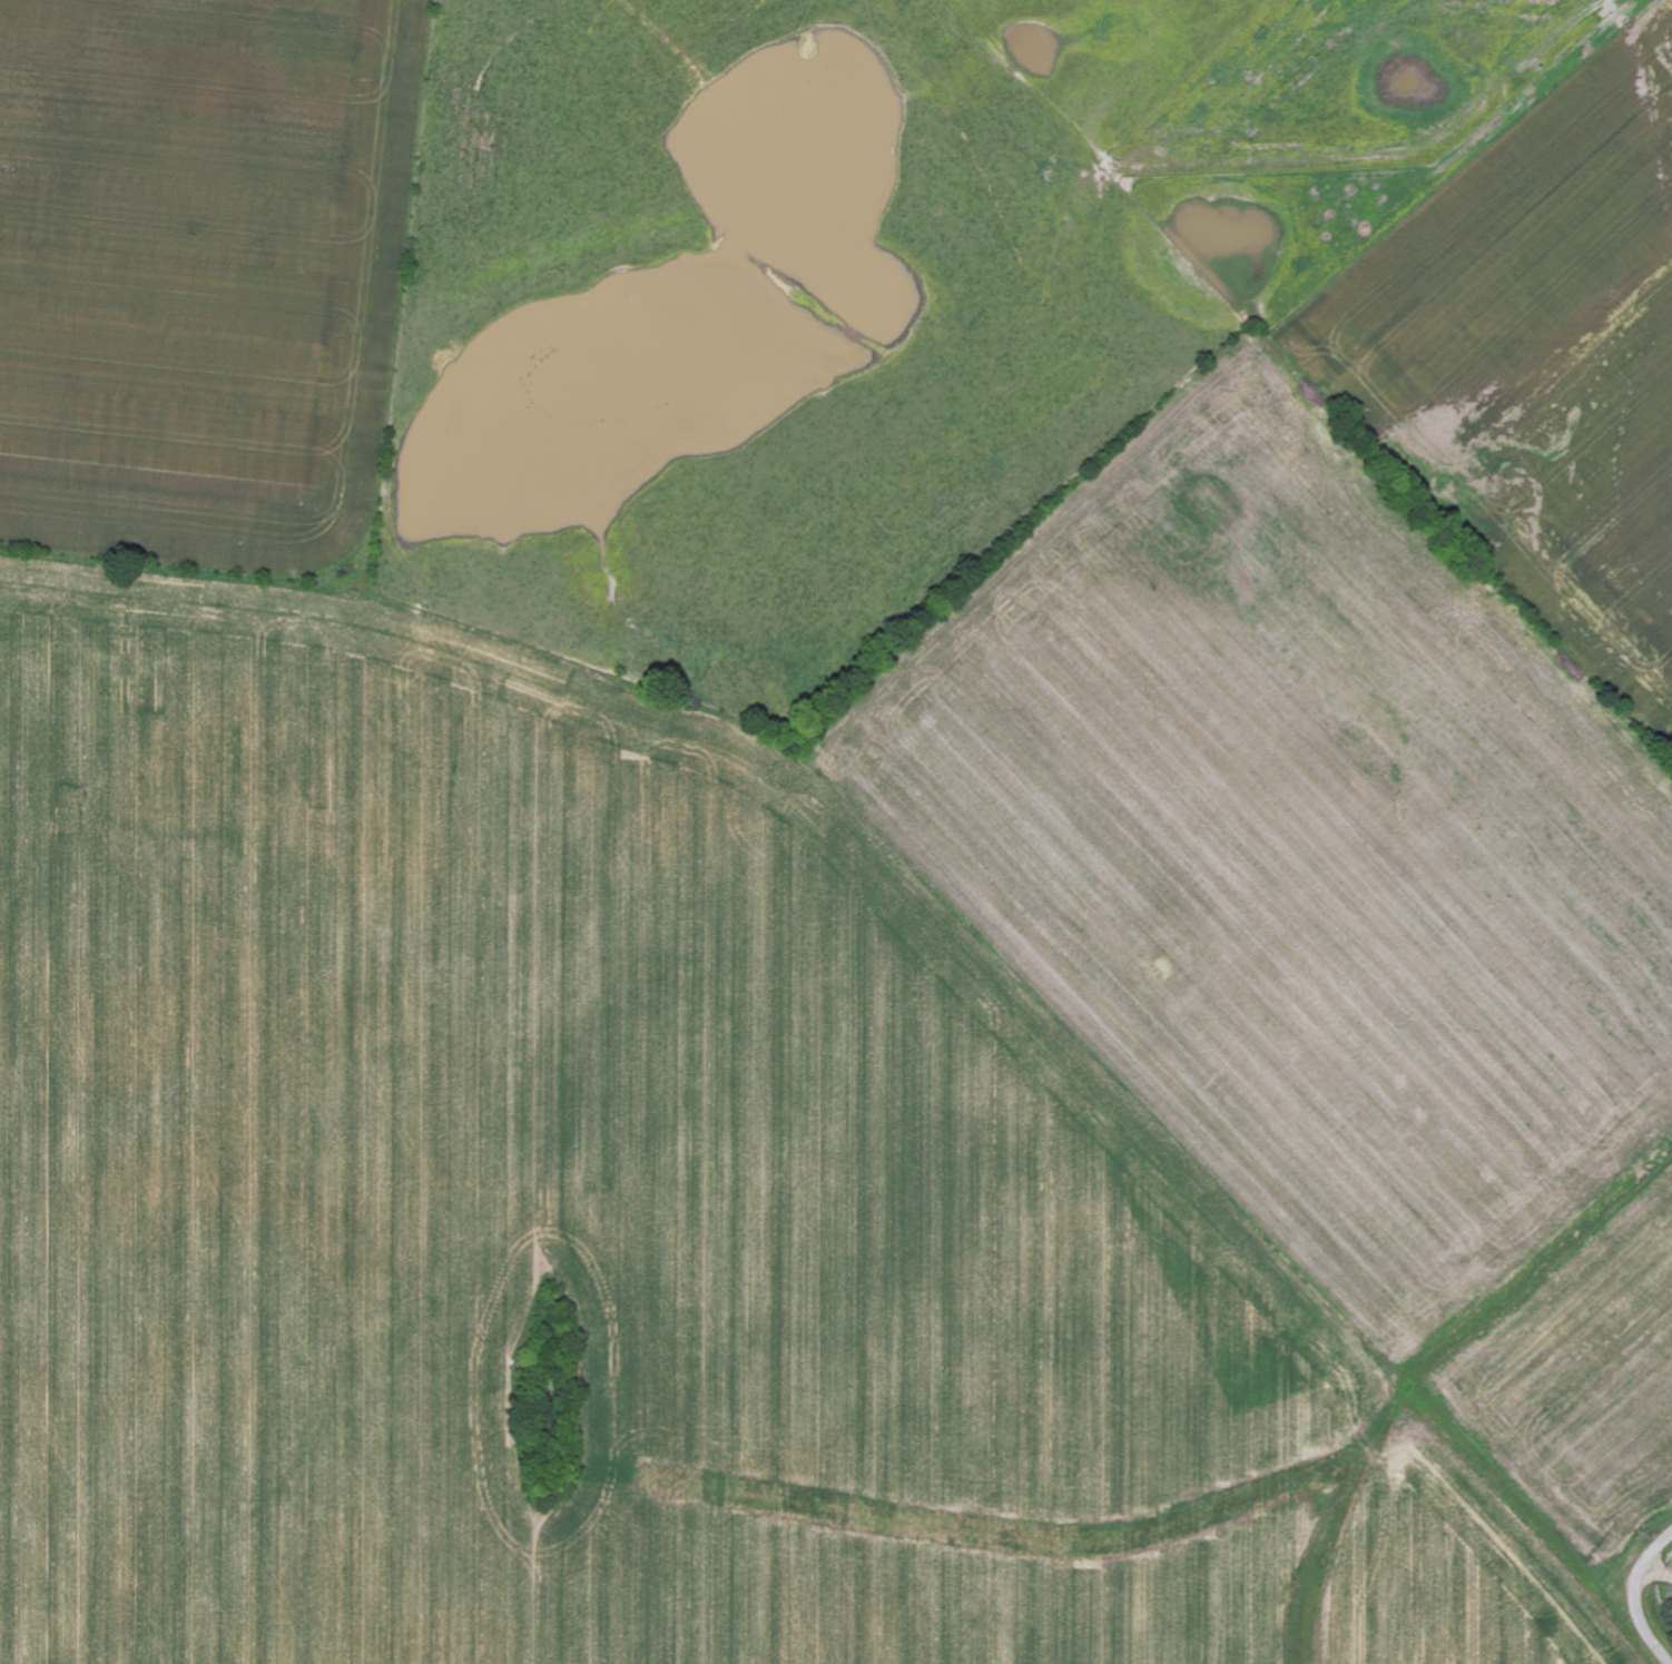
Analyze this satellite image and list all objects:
road: (1634, 1596)

